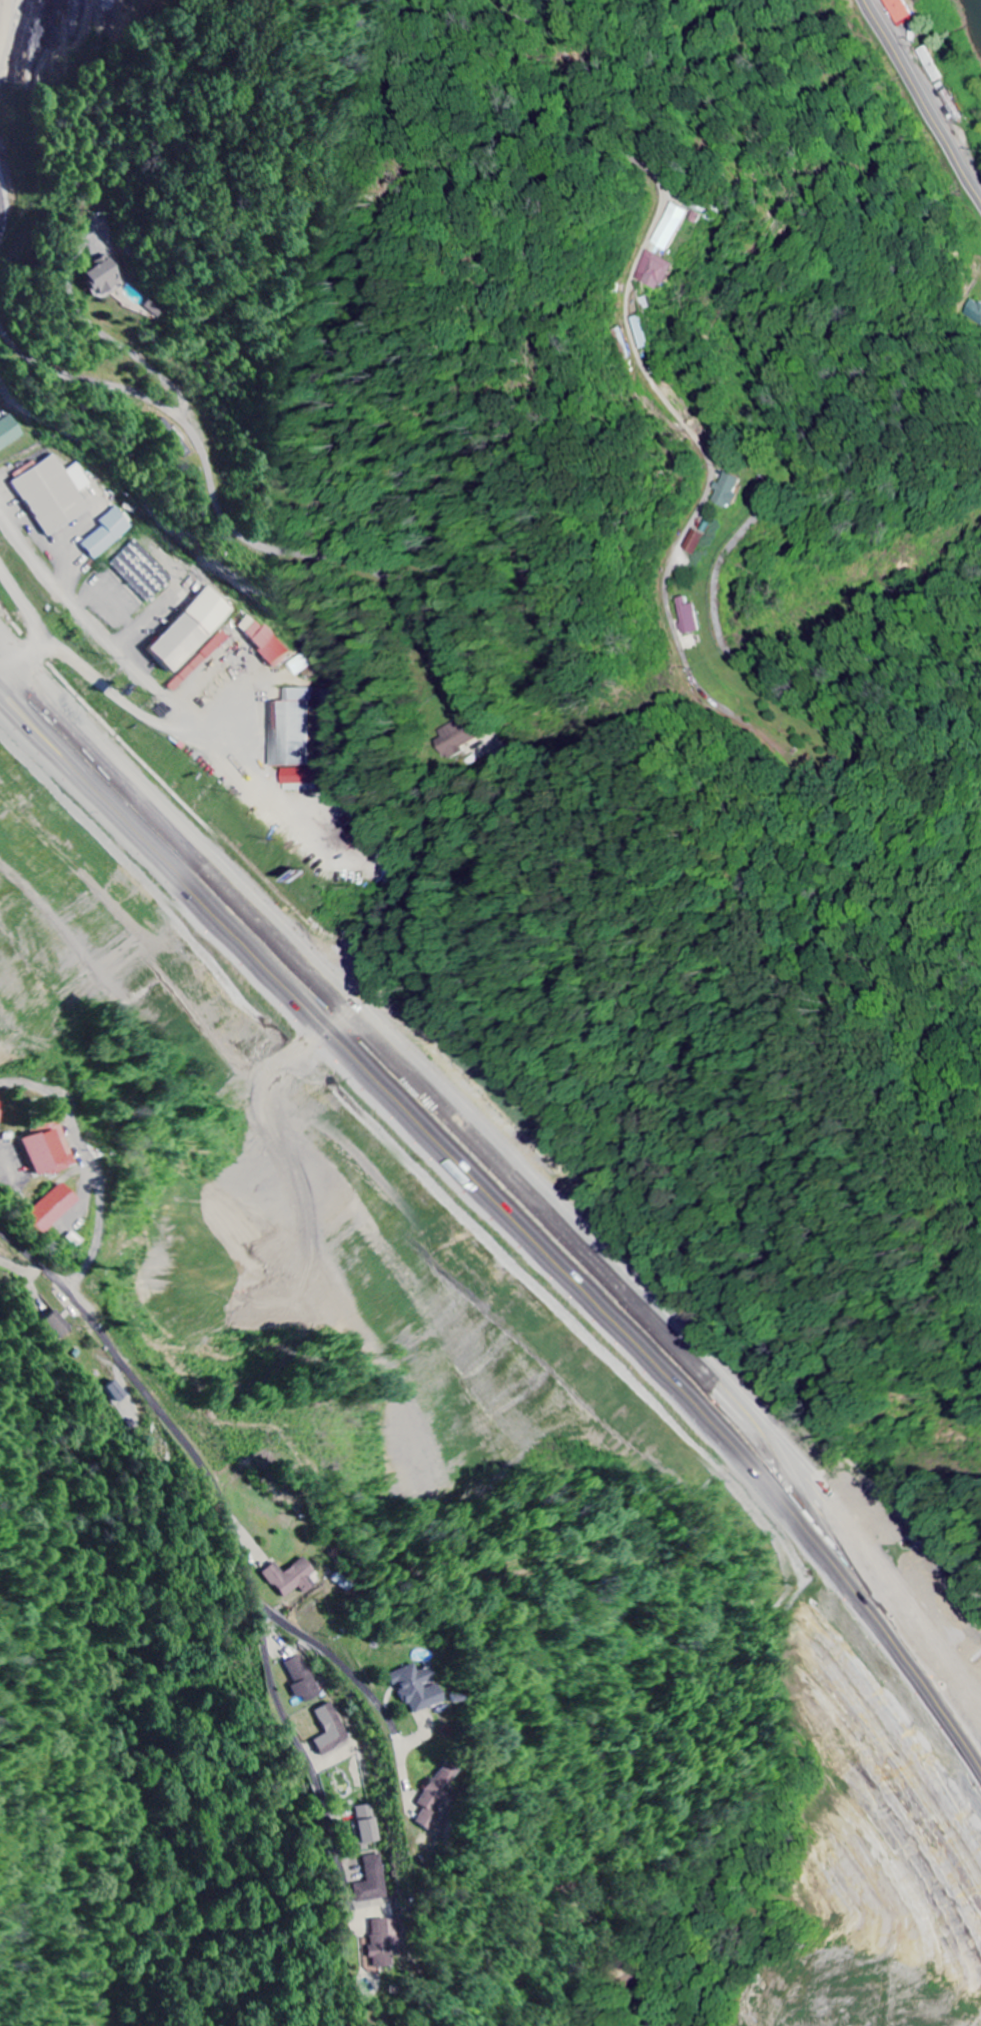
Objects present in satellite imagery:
river: (977, 5)
building: (904, 12)
road: (917, 105)
road: (2, 206)
building: (706, 211)
building: (674, 227)
building: (658, 271)
building: (105, 276)
road: (613, 328)
building: (644, 332)
building: (11, 432)
building: (731, 490)
building: (54, 494)
road: (216, 504)
building: (109, 533)
building: (700, 542)
building: (142, 572)
building: (693, 617)
building: (194, 629)
building: (267, 641)
building: (200, 662)
building: (297, 730)
building: (463, 736)
building: (303, 780)
road: (66, 1113)
building: (0, 1114)
road: (53, 1120)
building: (50, 1150)
road: (510, 1157)
road: (512, 1182)
road: (24, 1202)
building: (52, 1209)
road: (71, 1211)
road: (91, 1244)
building: (58, 1326)
building: (117, 1393)
power tower: (266, 1436)
road: (234, 1535)
building: (293, 1578)
road: (337, 1663)
building: (304, 1679)
building: (427, 1686)
building: (333, 1729)
building: (369, 1824)
building: (374, 1880)
building: (387, 1942)
road: (634, 1966)

